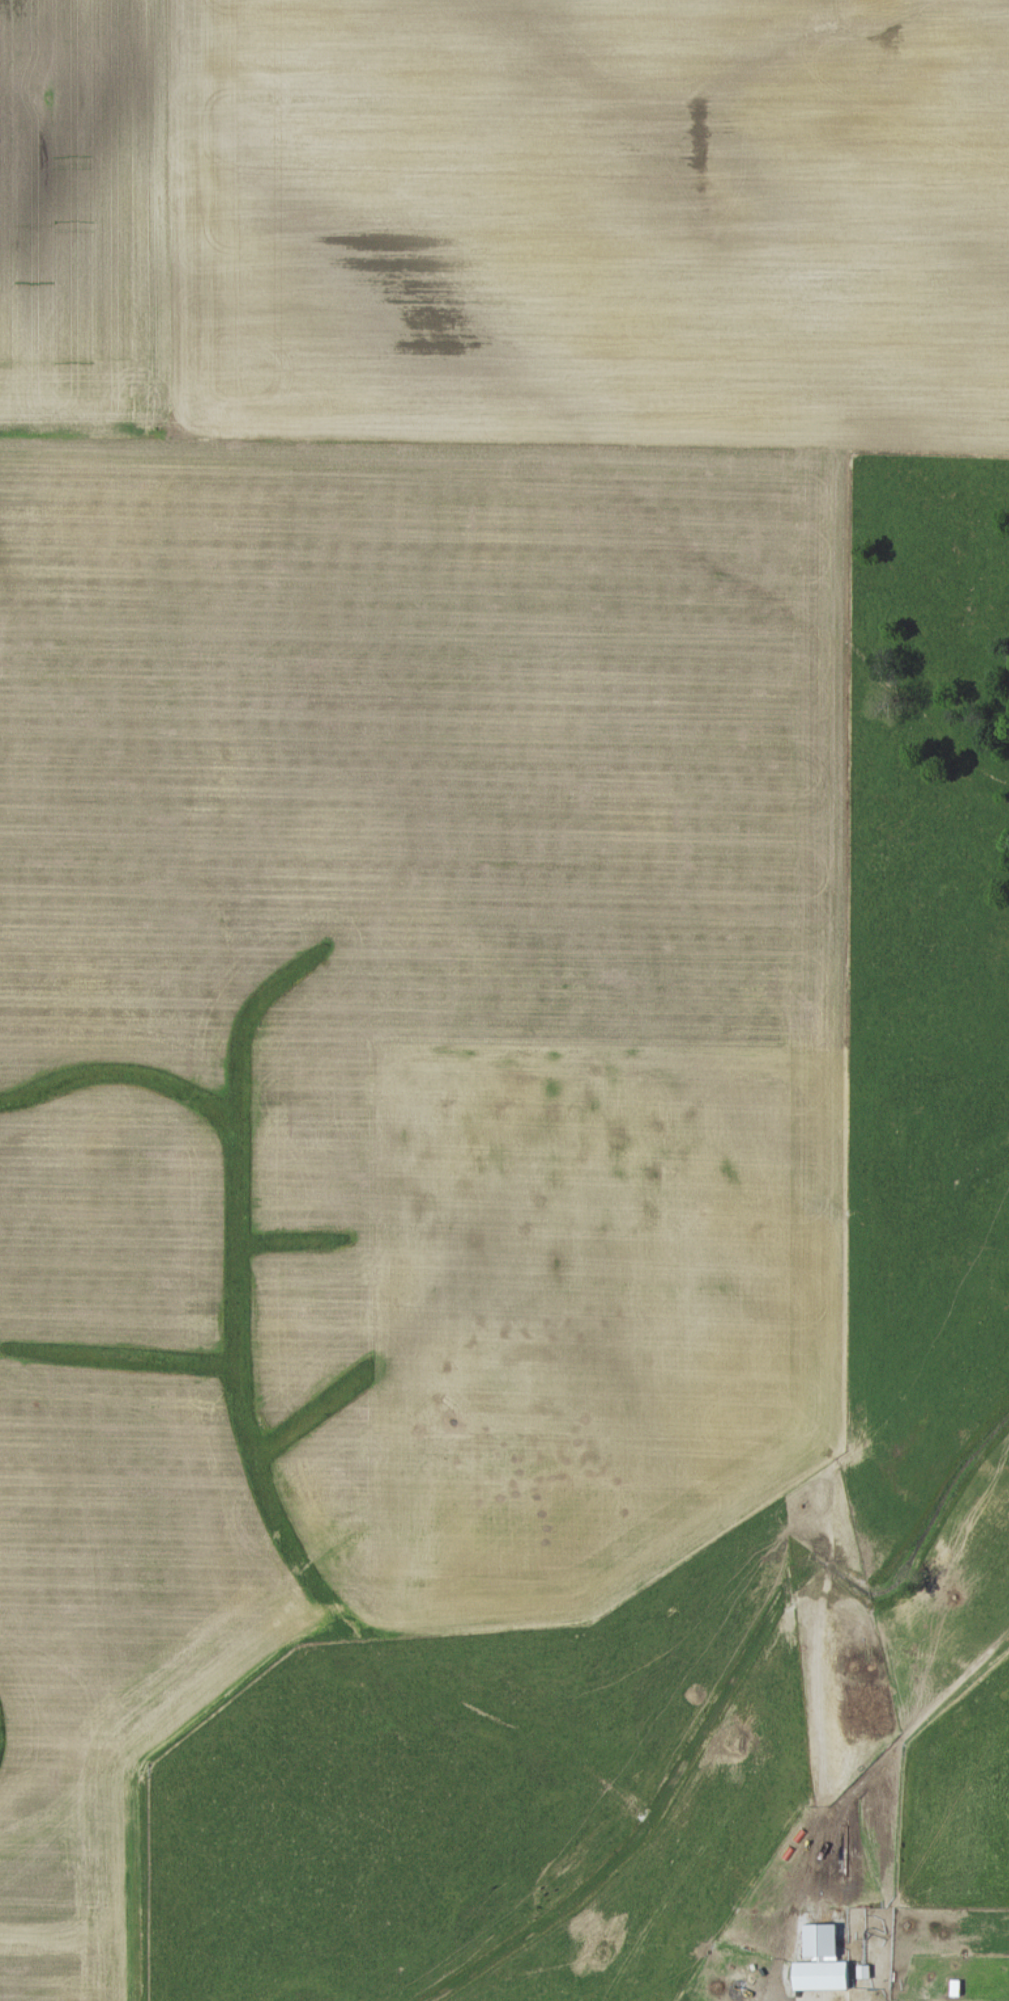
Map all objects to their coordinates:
building: (819, 1960)
building: (862, 1971)

